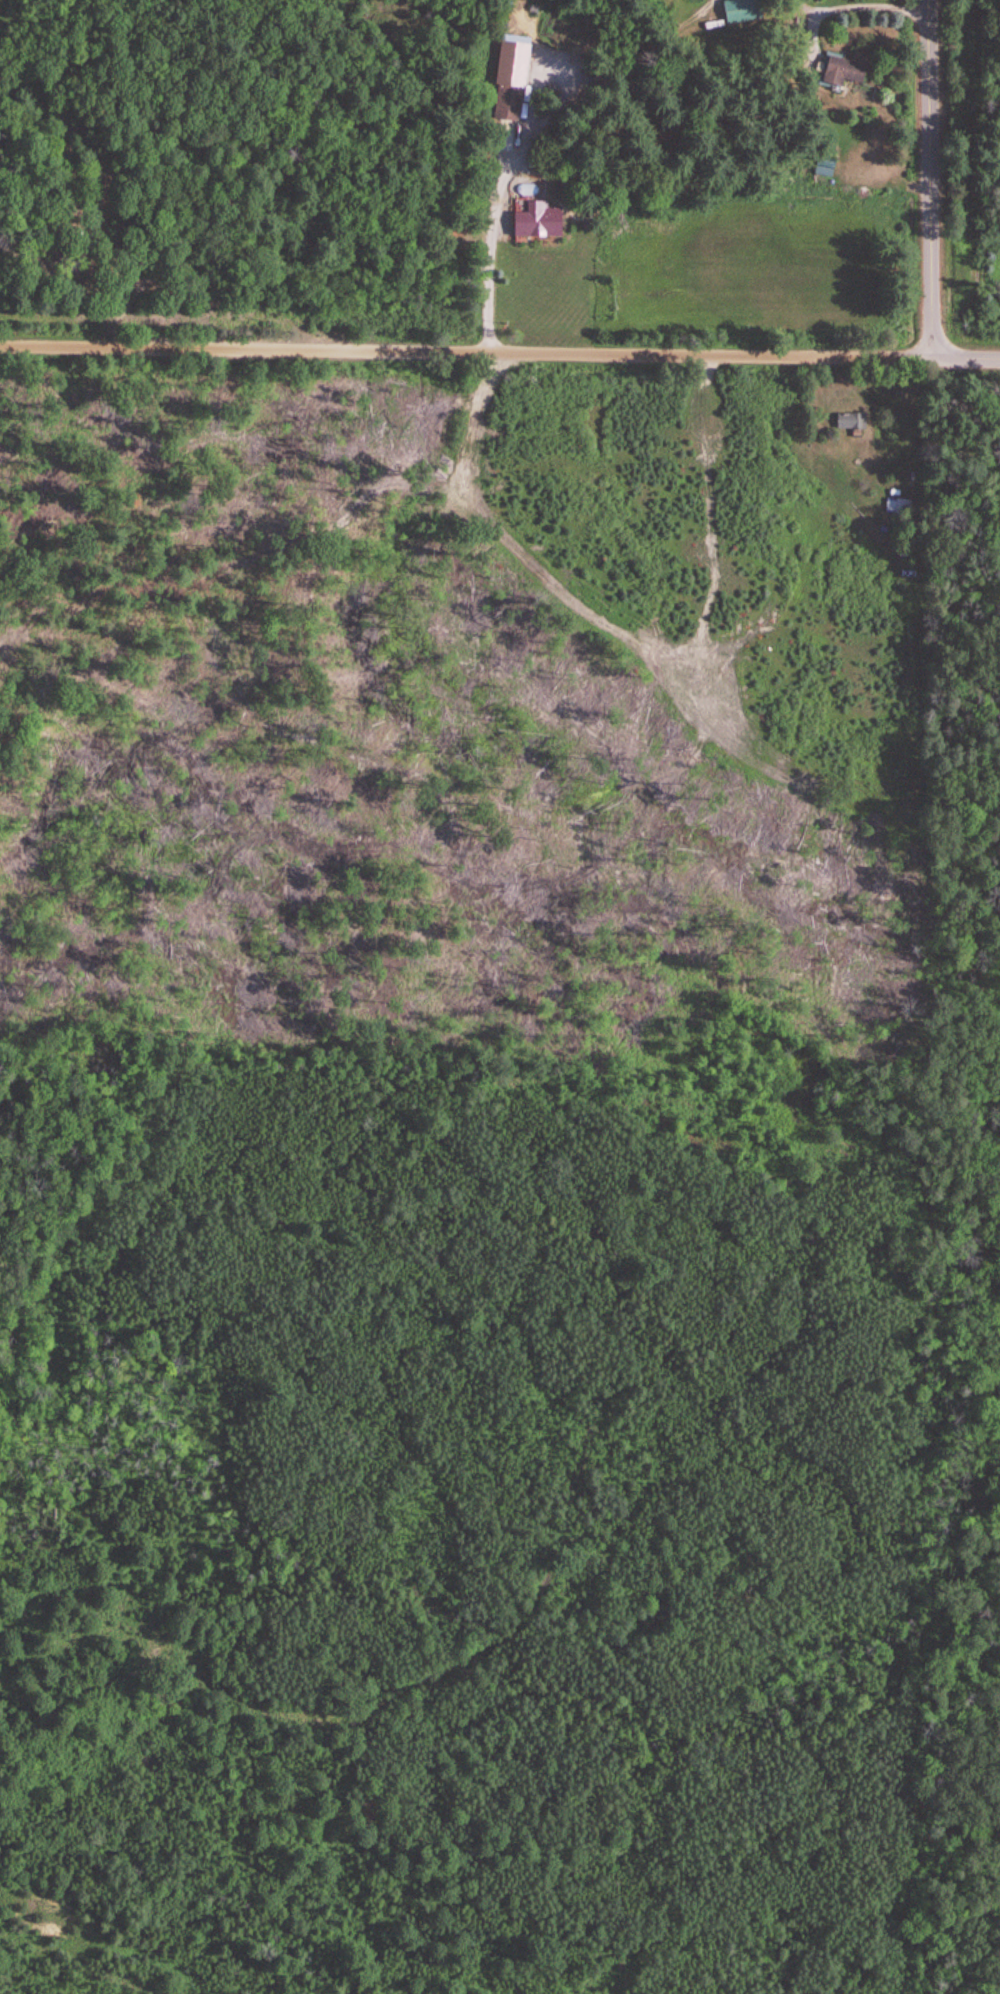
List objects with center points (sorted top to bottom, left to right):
building: (738, 11)
building: (831, 68)
building: (506, 101)
road: (929, 179)
building: (535, 225)
road: (486, 245)
road: (465, 353)
road: (965, 359)
building: (848, 421)
building: (893, 505)

